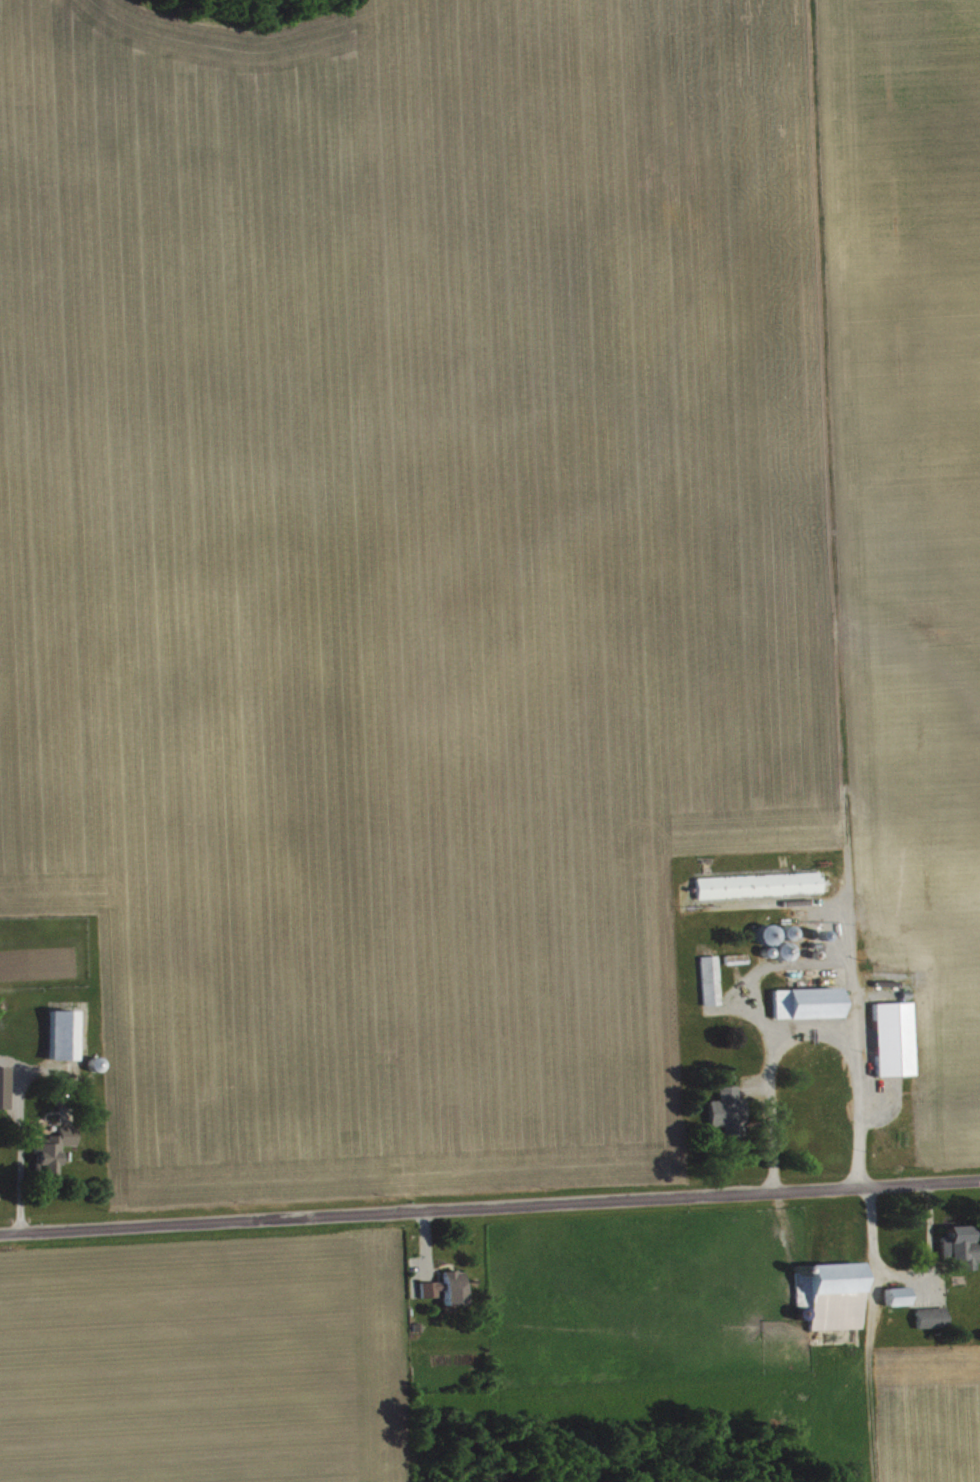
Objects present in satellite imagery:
building: (760, 891)
building: (738, 965)
building: (712, 986)
building: (808, 1009)
building: (63, 1041)
building: (895, 1045)
road: (852, 1050)
road: (765, 1078)
building: (4, 1094)
building: (728, 1116)
building: (54, 1156)
road: (18, 1183)
road: (489, 1209)
building: (962, 1253)
road: (898, 1277)
building: (448, 1294)
building: (838, 1301)
building: (899, 1303)
building: (933, 1324)

